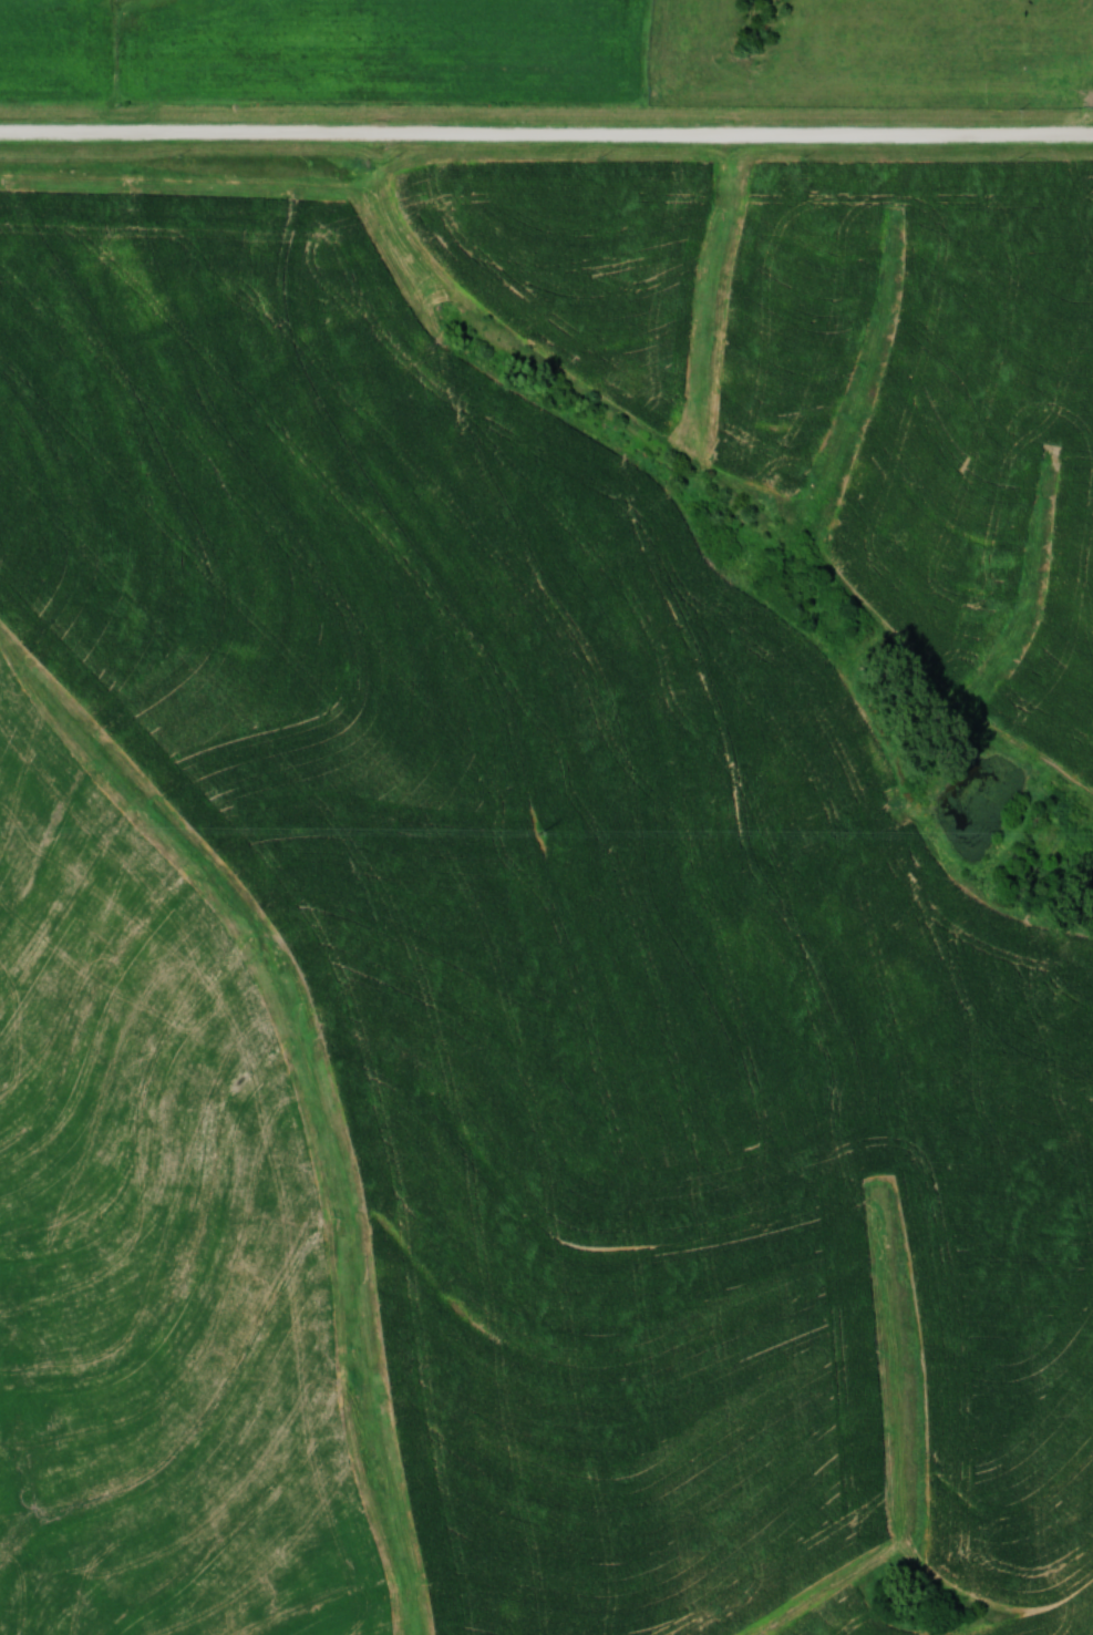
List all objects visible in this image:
road: (546, 127)

